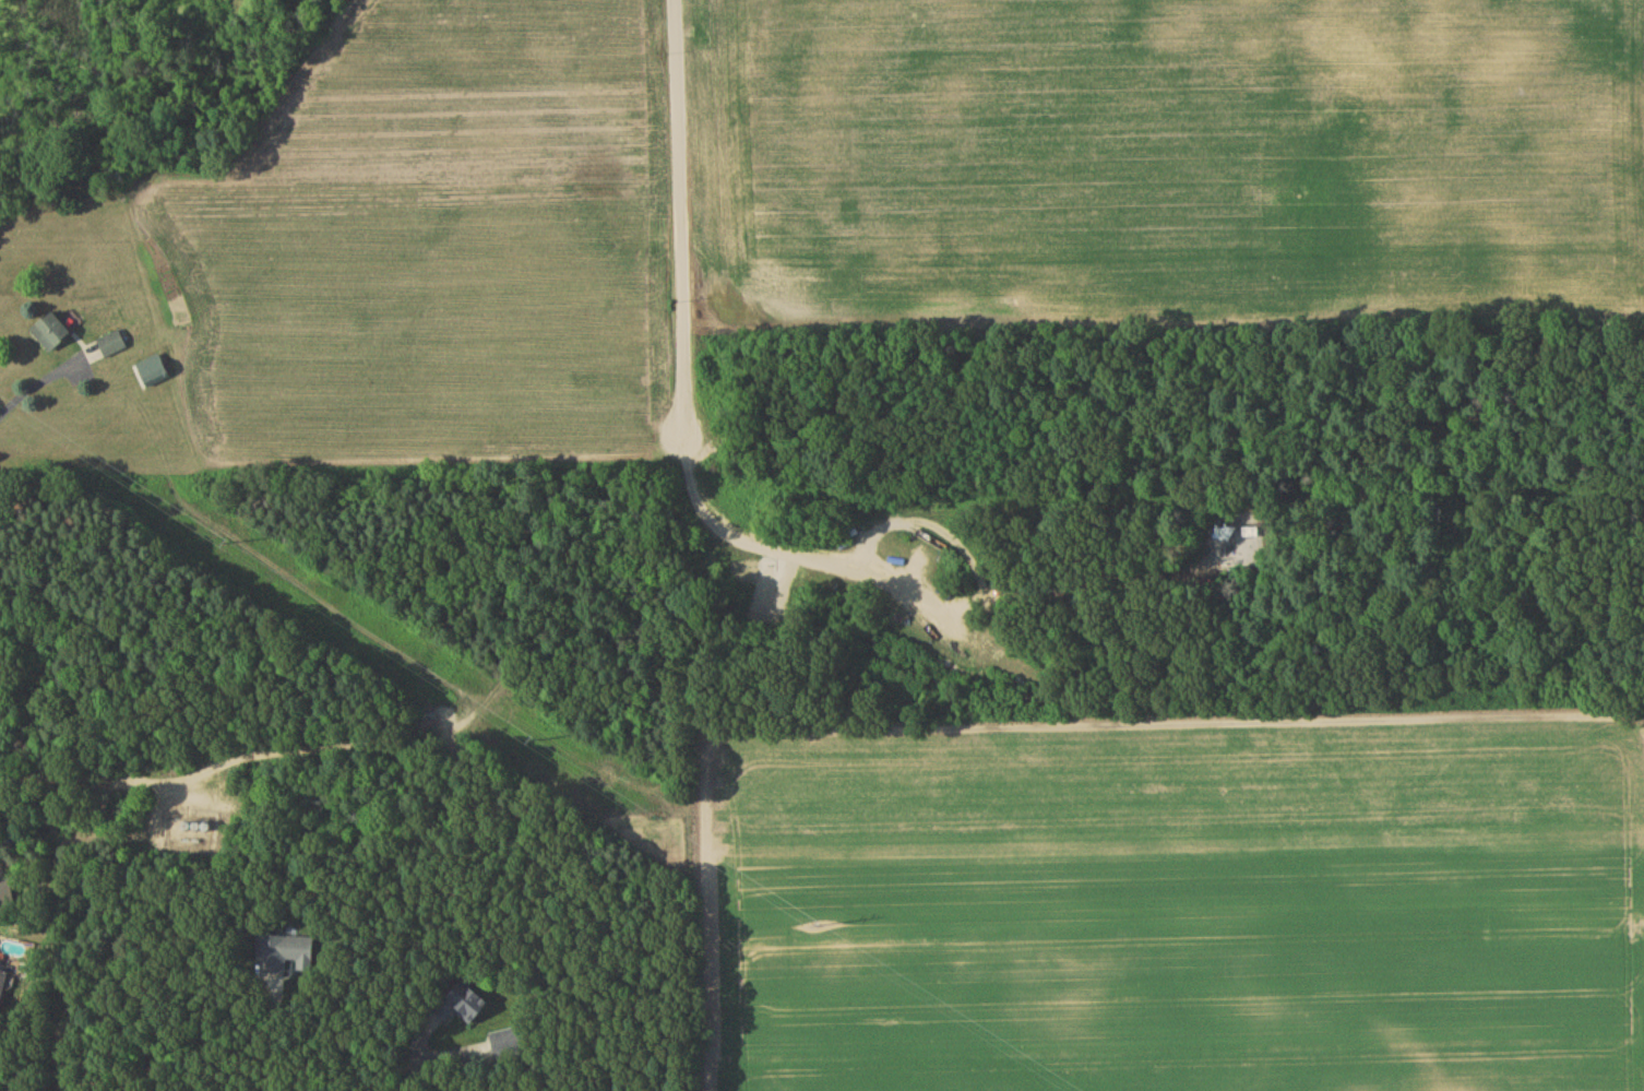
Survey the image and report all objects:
building: (52, 334)
building: (114, 346)
road: (40, 381)
road: (681, 399)
building: (1235, 536)
road: (195, 771)
building: (201, 827)
building: (286, 957)
building: (2, 985)
building: (464, 1006)
road: (51, 1028)
road: (272, 1036)
building: (508, 1045)
road: (418, 1052)
road: (418, 1066)

